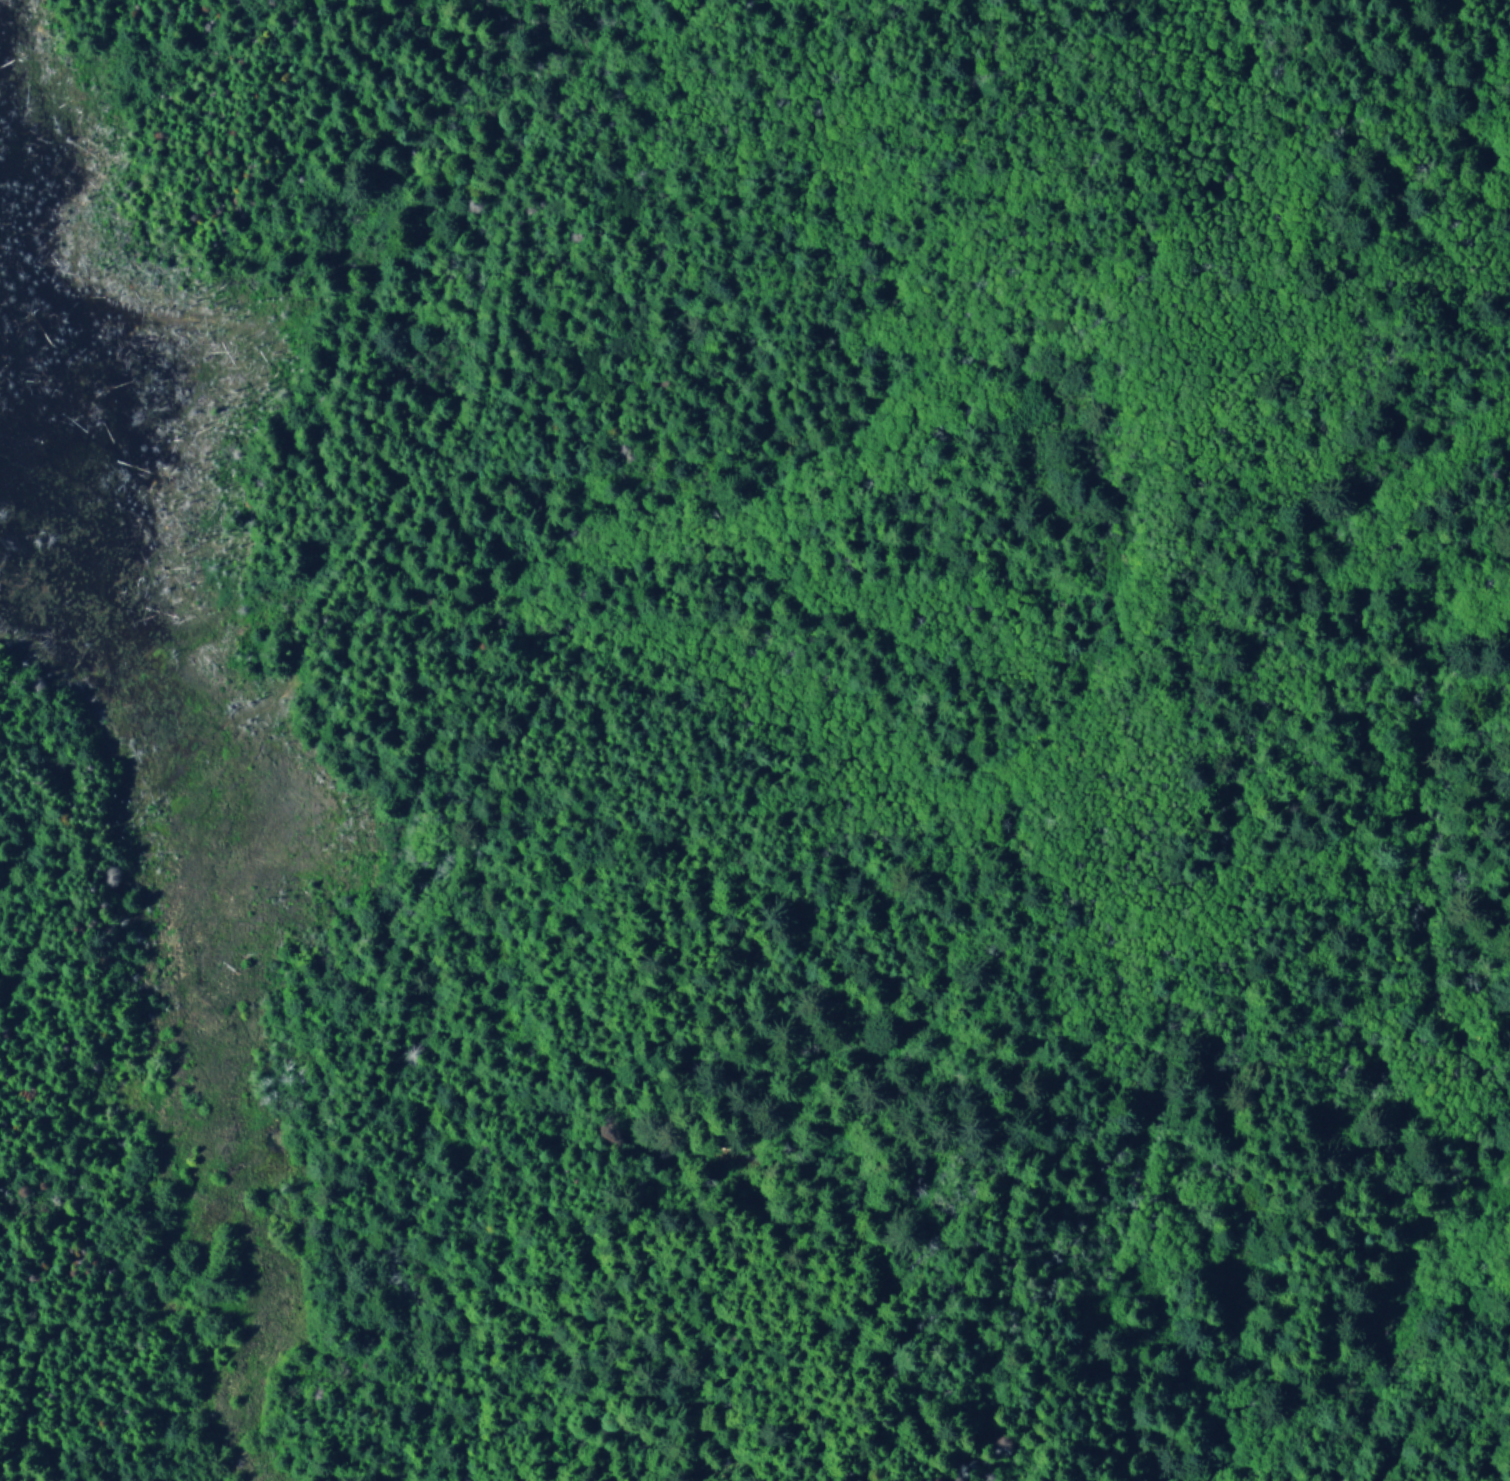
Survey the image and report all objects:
road: (918, 975)
road: (6, 1468)

